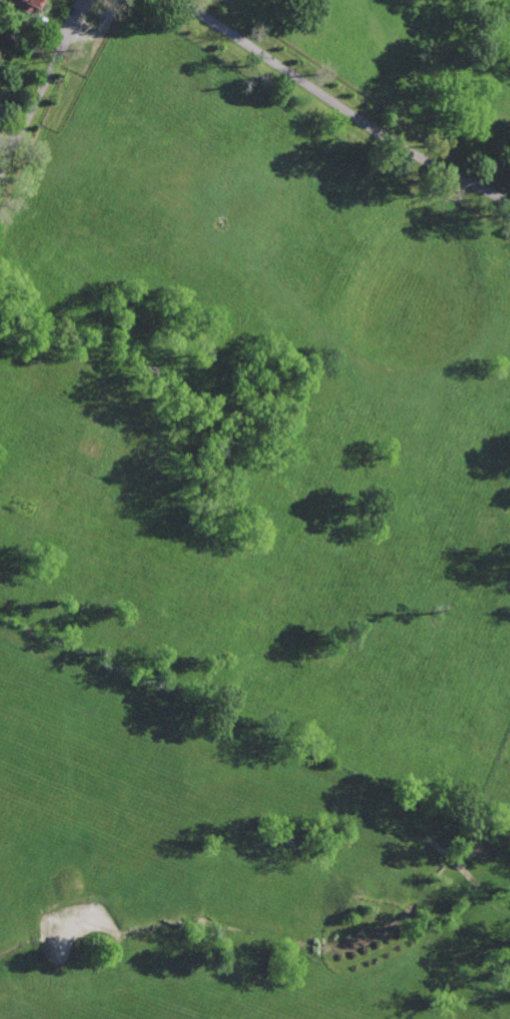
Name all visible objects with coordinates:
building: (25, 4)
road: (45, 81)
road: (344, 98)
road: (2, 157)
road: (2, 168)
park: (246, 538)

